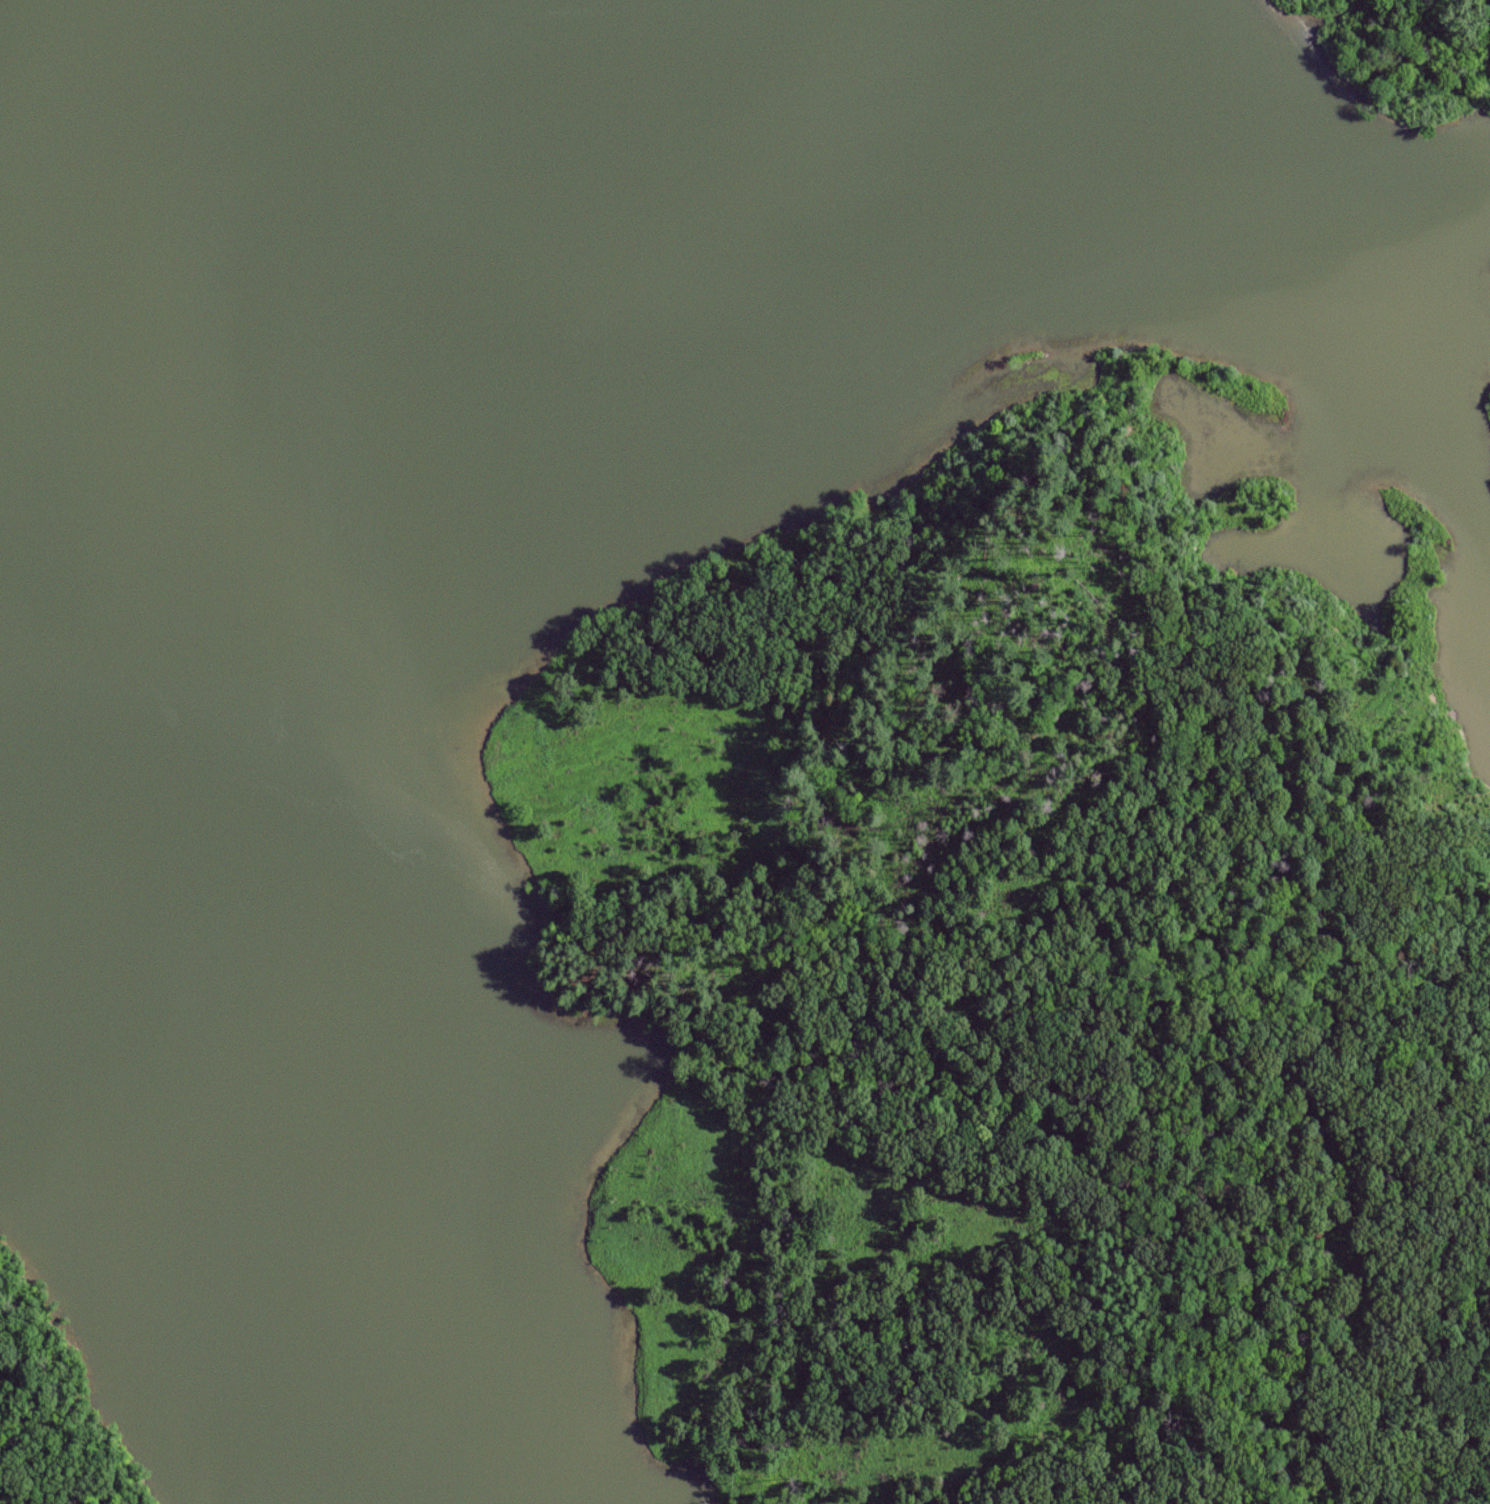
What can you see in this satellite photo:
road: (51, 1473)

